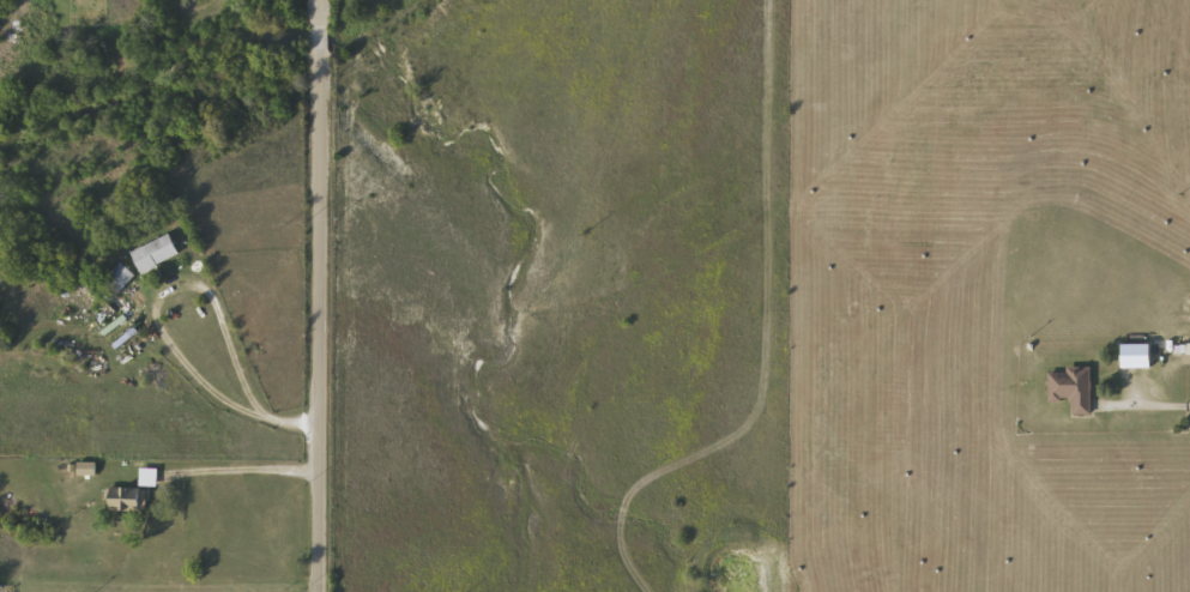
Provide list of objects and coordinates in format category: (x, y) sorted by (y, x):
building: (156, 250)
building: (119, 274)
road: (325, 296)
road: (153, 320)
building: (1136, 354)
building: (1073, 386)
road: (1146, 401)
road: (247, 470)
building: (149, 475)
building: (126, 496)

